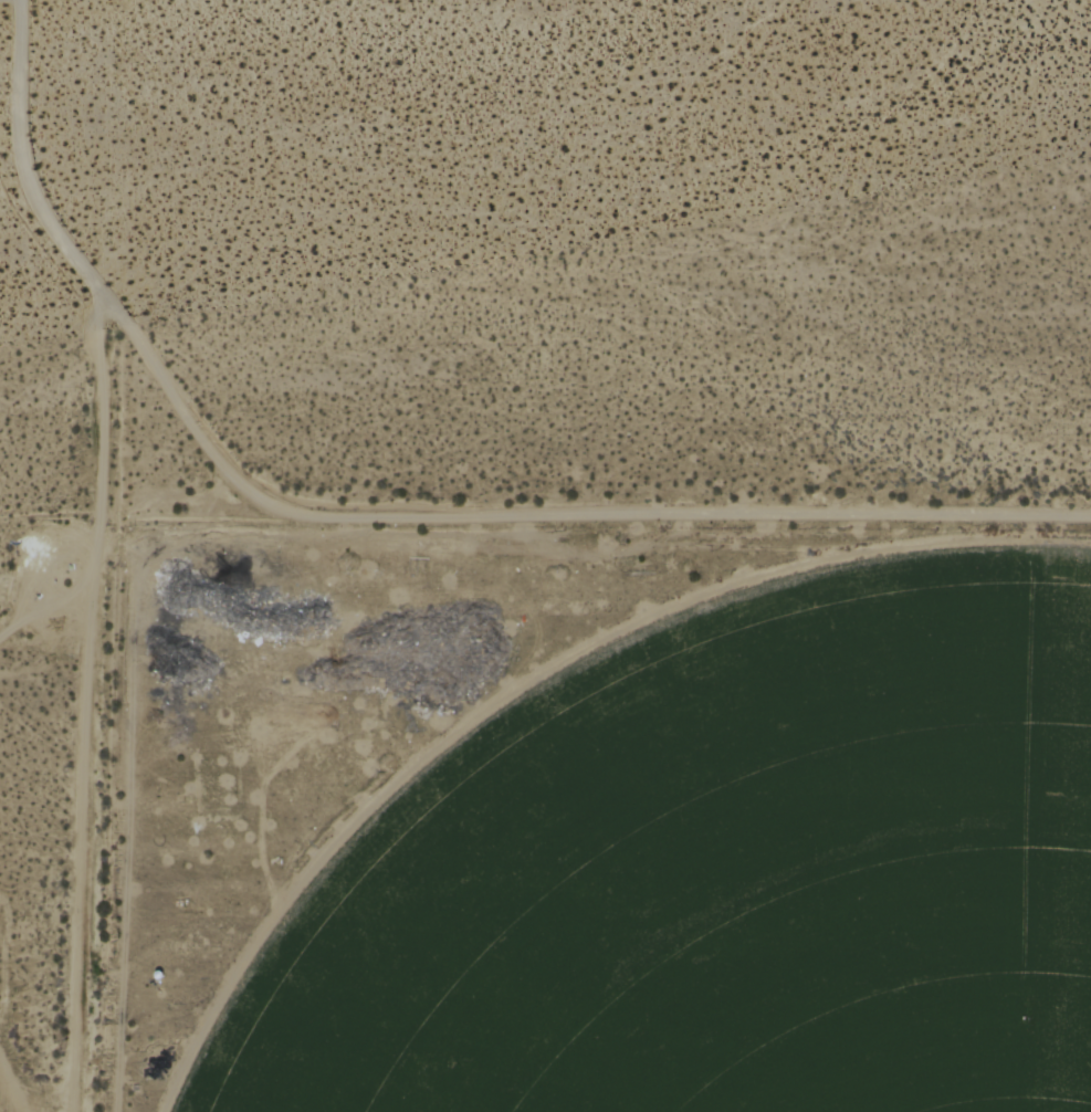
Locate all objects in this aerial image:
road: (23, 7)
road: (195, 415)
road: (595, 521)
road: (97, 542)
crop: (736, 883)

